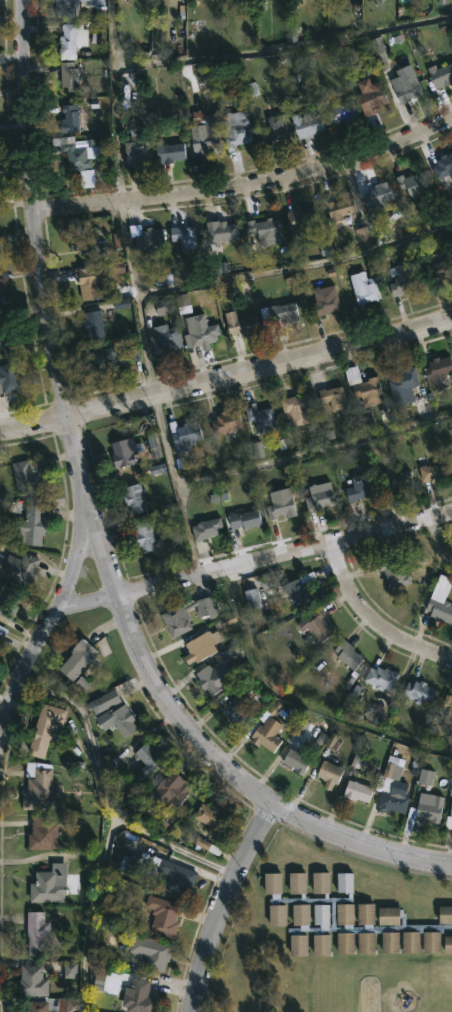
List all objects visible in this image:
building: (74, 6)
building: (67, 39)
road: (281, 47)
building: (380, 51)
building: (441, 74)
building: (69, 75)
building: (406, 83)
building: (252, 88)
building: (373, 97)
road: (109, 100)
building: (343, 112)
building: (69, 118)
building: (307, 124)
building: (237, 128)
building: (274, 128)
building: (206, 135)
building: (137, 148)
building: (169, 150)
building: (76, 151)
building: (443, 165)
road: (155, 183)
building: (414, 184)
road: (246, 185)
building: (378, 194)
building: (340, 208)
road: (32, 209)
building: (306, 220)
building: (221, 231)
building: (265, 231)
building: (147, 236)
building: (184, 236)
building: (362, 237)
building: (117, 240)
building: (88, 243)
building: (325, 247)
building: (440, 269)
building: (401, 280)
building: (87, 282)
building: (365, 287)
building: (2, 294)
road: (137, 297)
building: (325, 301)
building: (120, 304)
building: (162, 307)
building: (278, 314)
building: (93, 321)
building: (240, 324)
building: (196, 326)
building: (2, 334)
building: (168, 338)
building: (134, 353)
building: (106, 357)
road: (259, 368)
building: (437, 369)
building: (9, 377)
building: (403, 385)
building: (365, 387)
building: (334, 397)
building: (296, 408)
building: (262, 417)
building: (226, 422)
road: (32, 424)
building: (184, 435)
building: (381, 447)
building: (152, 448)
building: (125, 452)
road: (76, 455)
building: (436, 471)
building: (27, 476)
building: (397, 481)
road: (169, 486)
building: (358, 488)
building: (320, 497)
building: (134, 498)
building: (281, 504)
building: (242, 522)
building: (27, 524)
building: (207, 528)
building: (145, 537)
road: (102, 544)
road: (437, 546)
road: (253, 563)
building: (19, 570)
building: (395, 573)
building: (302, 590)
building: (250, 592)
building: (440, 600)
building: (9, 602)
building: (176, 611)
road: (52, 614)
road: (374, 618)
building: (227, 621)
building: (317, 625)
building: (2, 631)
building: (202, 646)
building: (233, 649)
building: (348, 655)
building: (78, 658)
building: (382, 678)
building: (209, 680)
building: (82, 683)
building: (419, 692)
building: (106, 701)
road: (299, 701)
building: (448, 707)
road: (175, 710)
building: (237, 712)
building: (121, 721)
building: (302, 725)
building: (45, 730)
building: (267, 734)
building: (330, 740)
building: (298, 761)
building: (147, 762)
building: (392, 769)
building: (329, 774)
building: (425, 777)
building: (383, 785)
building: (170, 790)
building: (39, 791)
building: (357, 791)
building: (394, 799)
building: (431, 809)
building: (451, 811)
building: (209, 815)
building: (409, 821)
building: (44, 834)
road: (355, 845)
building: (176, 876)
building: (49, 885)
road: (217, 902)
building: (445, 912)
building: (164, 917)
building: (343, 917)
building: (37, 933)
building: (447, 941)
building: (151, 951)
building: (69, 970)
building: (33, 981)
building: (107, 983)
building: (139, 997)
building: (67, 1005)
building: (37, 1007)

